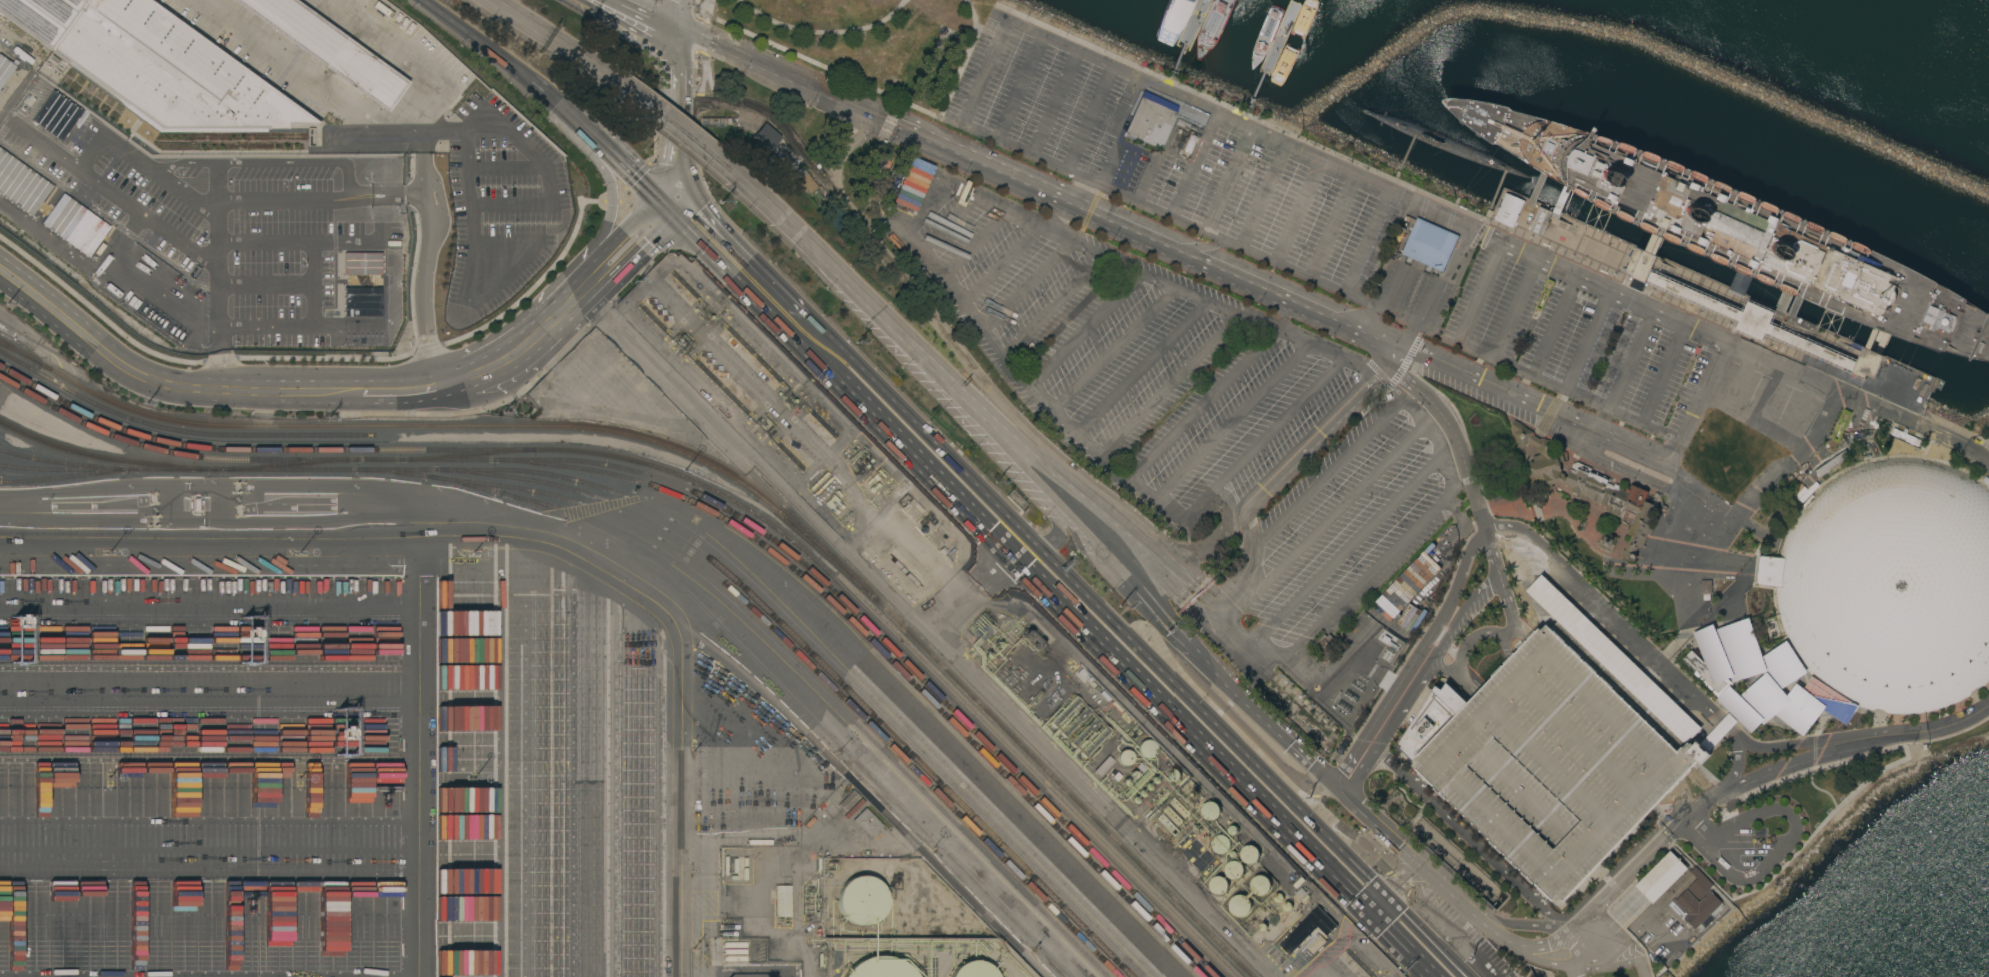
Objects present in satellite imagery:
road: (705, 7)
road: (653, 12)
road: (679, 12)
road: (972, 13)
building: (43, 17)
road: (521, 17)
traffic signals: (679, 24)
pier: (1192, 26)
road: (638, 29)
road: (823, 32)
road: (704, 35)
park: (911, 39)
pier: (1278, 42)
road: (679, 46)
building: (330, 48)
road: (489, 50)
road: (399, 51)
road: (739, 51)
road: (586, 62)
building: (4, 69)
traffic signals: (679, 69)
road: (981, 70)
building: (169, 71)
road: (307, 76)
road: (865, 84)
road: (1018, 86)
road: (678, 88)
road: (1054, 102)
building: (56, 115)
road: (572, 118)
road: (1089, 118)
building: (1151, 119)
road: (423, 123)
toll booth: (890, 124)
road: (461, 131)
road: (678, 133)
building: (760, 138)
building: (884, 142)
building: (1190, 144)
building: (1441, 145)
road: (48, 146)
road: (1141, 150)
road: (674, 154)
road: (843, 154)
road: (1405, 159)
road: (266, 161)
road: (1196, 166)
road: (629, 167)
road: (504, 169)
building: (805, 180)
road: (1225, 181)
building: (912, 183)
building: (21, 184)
road: (1538, 187)
road: (1497, 192)
road: (1260, 197)
road: (202, 199)
traffic signals: (670, 201)
road: (1075, 205)
road: (930, 206)
building: (1509, 210)
road: (1296, 213)
road: (1052, 214)
road: (1555, 214)
road: (1442, 219)
building: (1544, 220)
road: (1189, 222)
building: (75, 224)
road: (945, 225)
road: (1330, 228)
building: (1739, 231)
parking lot: (1319, 233)
road: (707, 238)
road: (178, 239)
road: (300, 240)
road: (592, 244)
road: (1367, 244)
road: (972, 245)
building: (1430, 245)
road: (1654, 246)
road: (1207, 247)
road: (623, 250)
building: (362, 263)
road: (999, 265)
road: (886, 266)
road: (217, 275)
road: (1739, 282)
road: (312, 283)
building: (1740, 283)
road: (264, 284)
road: (468, 285)
road: (1025, 285)
road: (1393, 289)
road: (1441, 294)
building: (361, 301)
road: (1212, 305)
road: (1794, 305)
road: (38, 306)
road: (1054, 307)
road: (1780, 309)
road: (1280, 314)
building: (1767, 319)
road: (553, 321)
road: (297, 326)
road: (1082, 328)
road: (1547, 339)
road: (1870, 340)
road: (1880, 344)
road: (914, 345)
road: (1112, 349)
road: (1475, 351)
railway: (20, 352)
road: (1582, 353)
road: (1333, 354)
road: (1141, 367)
road: (485, 369)
railway: (8, 370)
road: (1167, 385)
road: (1391, 385)
road: (391, 386)
road: (204, 390)
parking lot: (1691, 396)
parking lot: (1479, 399)
road: (1201, 403)
road: (1532, 404)
road: (1695, 405)
road: (882, 413)
road: (1623, 418)
road: (1232, 421)
road: (1451, 429)
railway: (174, 430)
road: (1938, 436)
parking lot: (1212, 437)
road: (1262, 438)
road: (1436, 439)
railway: (466, 454)
railway: (101, 456)
railway: (737, 457)
railway: (60, 462)
railway: (290, 464)
railway: (716, 467)
railway: (103, 469)
street lamp: (687, 475)
road: (1125, 475)
railway: (67, 476)
road: (1326, 476)
road: (1093, 482)
road: (1271, 484)
railway: (702, 486)
building: (1589, 487)
railway: (694, 491)
road: (1755, 491)
road: (1323, 522)
road: (526, 531)
road: (1061, 531)
building: (1607, 542)
road: (1344, 550)
road: (1143, 553)
road: (1492, 554)
road: (1136, 572)
road: (1369, 572)
railway: (748, 574)
road: (1692, 590)
building: (1867, 602)
road: (1509, 610)
road: (1610, 611)
road: (211, 616)
road: (1456, 623)
road: (1510, 633)
road: (1477, 635)
road: (1239, 637)
railway: (784, 640)
road: (1190, 645)
railway: (887, 655)
building: (1612, 659)
road: (1413, 660)
railway: (819, 661)
railway: (802, 669)
road: (1451, 674)
road: (210, 696)
railway: (805, 705)
building: (1062, 711)
building: (1070, 718)
road: (1722, 722)
road: (1959, 722)
building: (1078, 726)
road: (1728, 726)
road: (1726, 728)
road: (1275, 729)
building: (1718, 732)
road: (1579, 735)
road: (1382, 736)
road: (1825, 739)
road: (1260, 744)
road: (854, 746)
building: (1925, 747)
building: (1147, 748)
road: (503, 752)
road: (1650, 752)
road: (1827, 752)
building: (1125, 757)
road: (1736, 758)
road: (420, 760)
building: (1546, 762)
parking lot: (1546, 762)
road: (593, 763)
road: (1234, 764)
road: (1551, 765)
building: (1174, 775)
street lamp: (297, 777)
street lamp: (471, 778)
road: (1419, 780)
road: (1524, 794)
road: (210, 806)
road: (1700, 806)
road: (1675, 808)
building: (1210, 810)
building: (1173, 814)
building: (867, 822)
road: (1455, 822)
road: (1657, 828)
building: (1220, 844)
road: (1781, 850)
road: (1408, 853)
building: (1250, 854)
building: (1234, 870)
road: (1619, 876)
building: (1661, 877)
building: (1218, 885)
building: (1261, 885)
road: (1399, 886)
road: (1538, 895)
building: (861, 899)
building: (783, 900)
road: (1544, 901)
road: (1537, 902)
building: (1240, 905)
building: (1697, 907)
traffic signals: (1378, 908)
road: (1554, 916)
road: (1518, 924)
building: (1307, 929)
road: (1490, 929)
road: (1576, 941)
road: (1548, 946)
street lamp: (691, 947)
road: (1619, 949)
road: (1539, 960)
road: (1574, 961)
road: (1591, 963)
road: (1625, 963)
building: (880, 968)
building: (973, 970)
road: (1571, 970)

